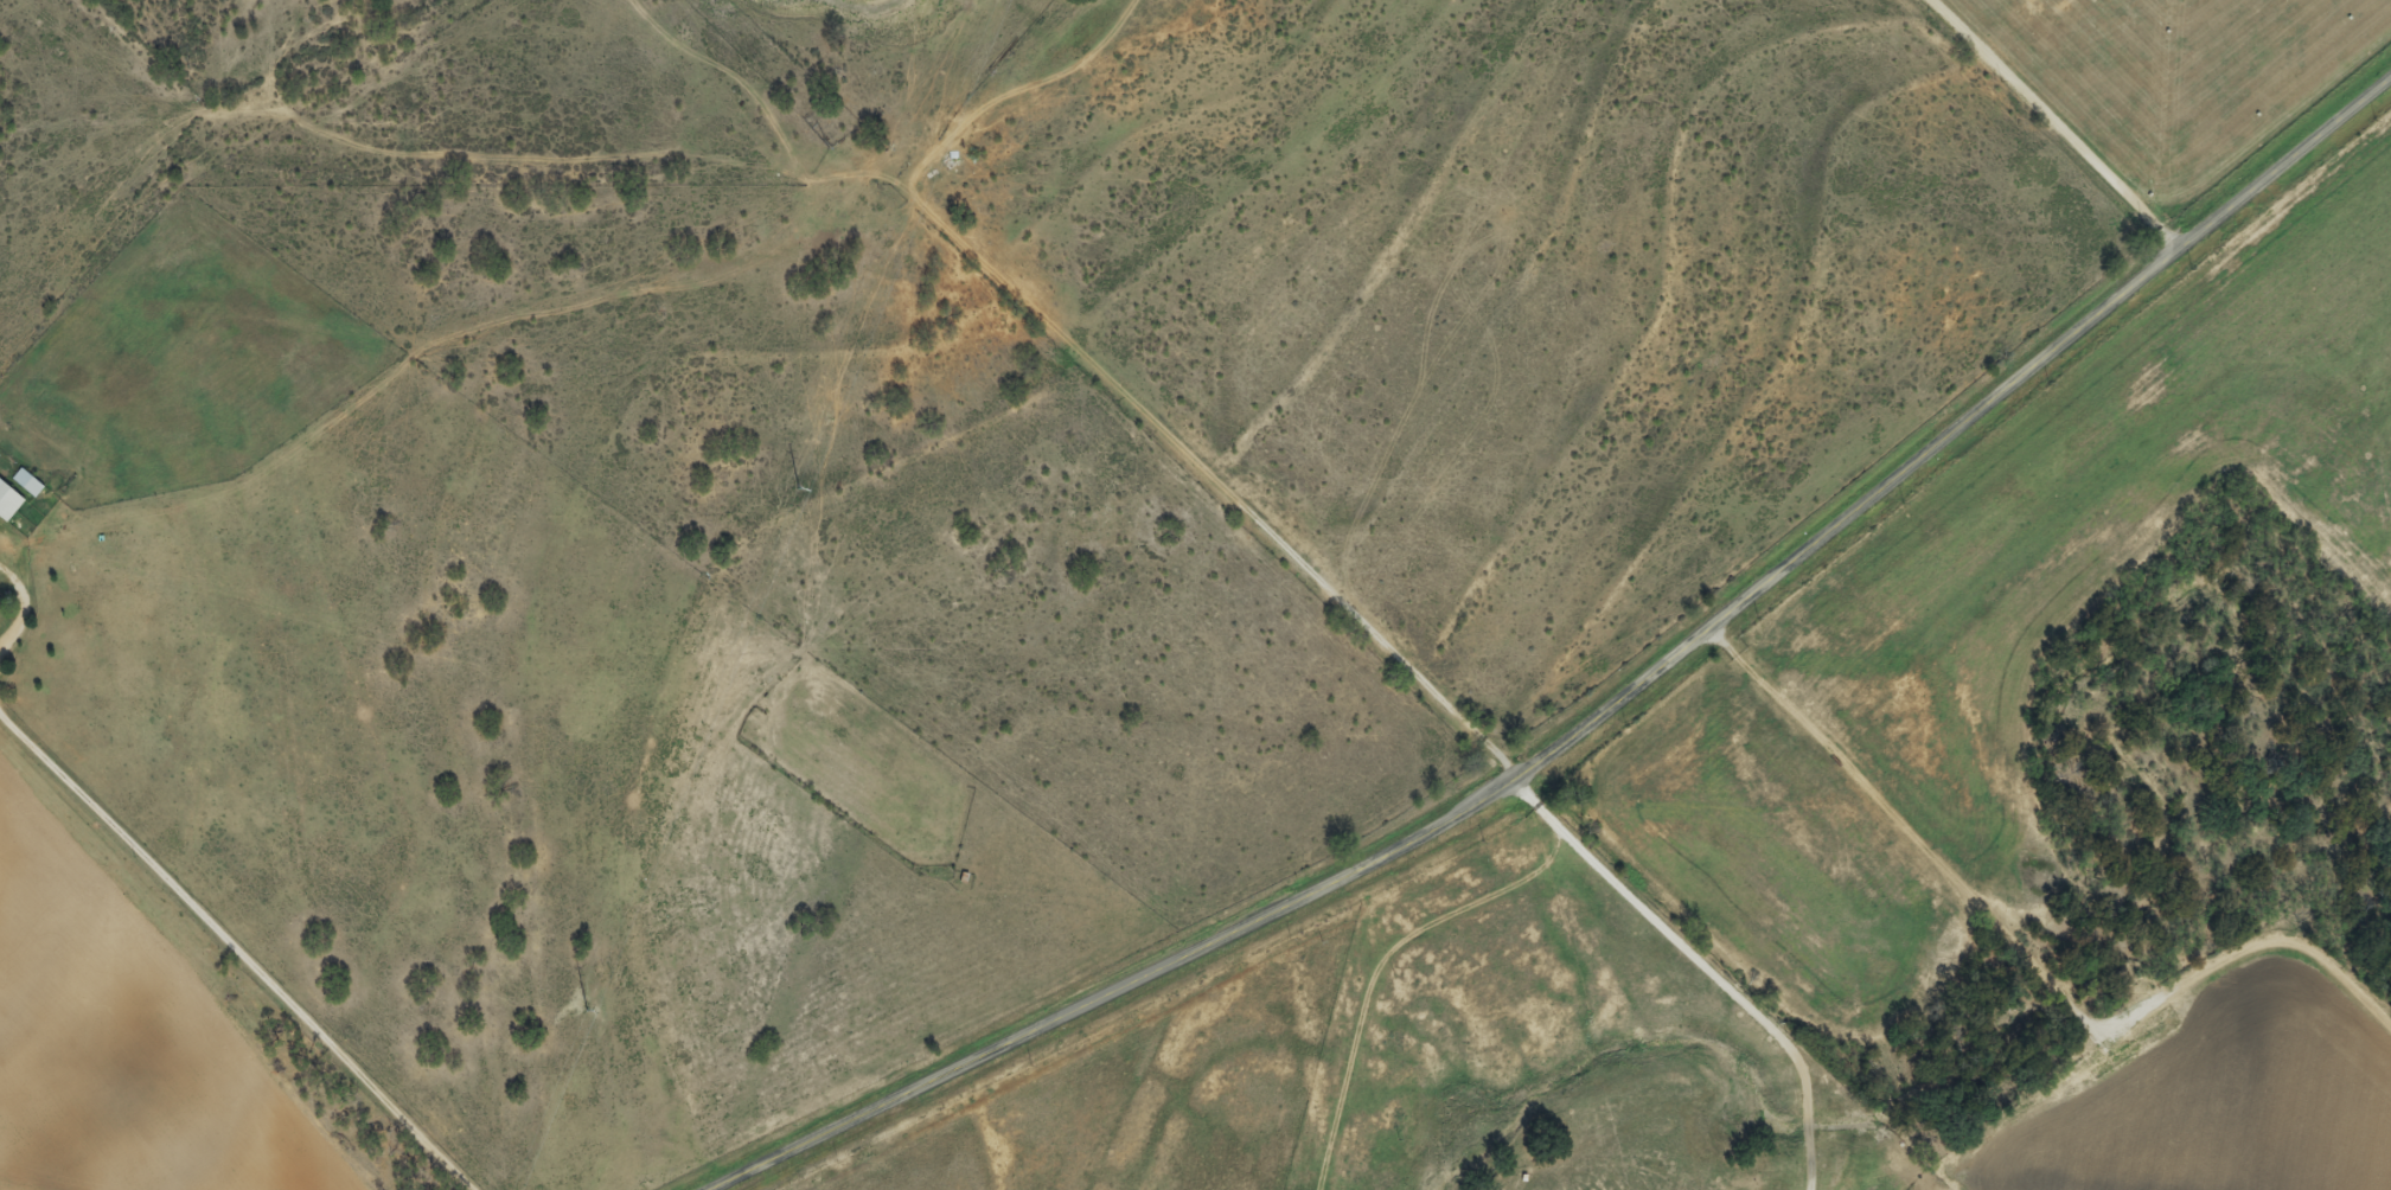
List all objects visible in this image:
road: (2050, 123)
road: (1115, 391)
building: (30, 482)
building: (9, 501)
road: (1602, 712)
road: (2022, 948)
road: (226, 955)

